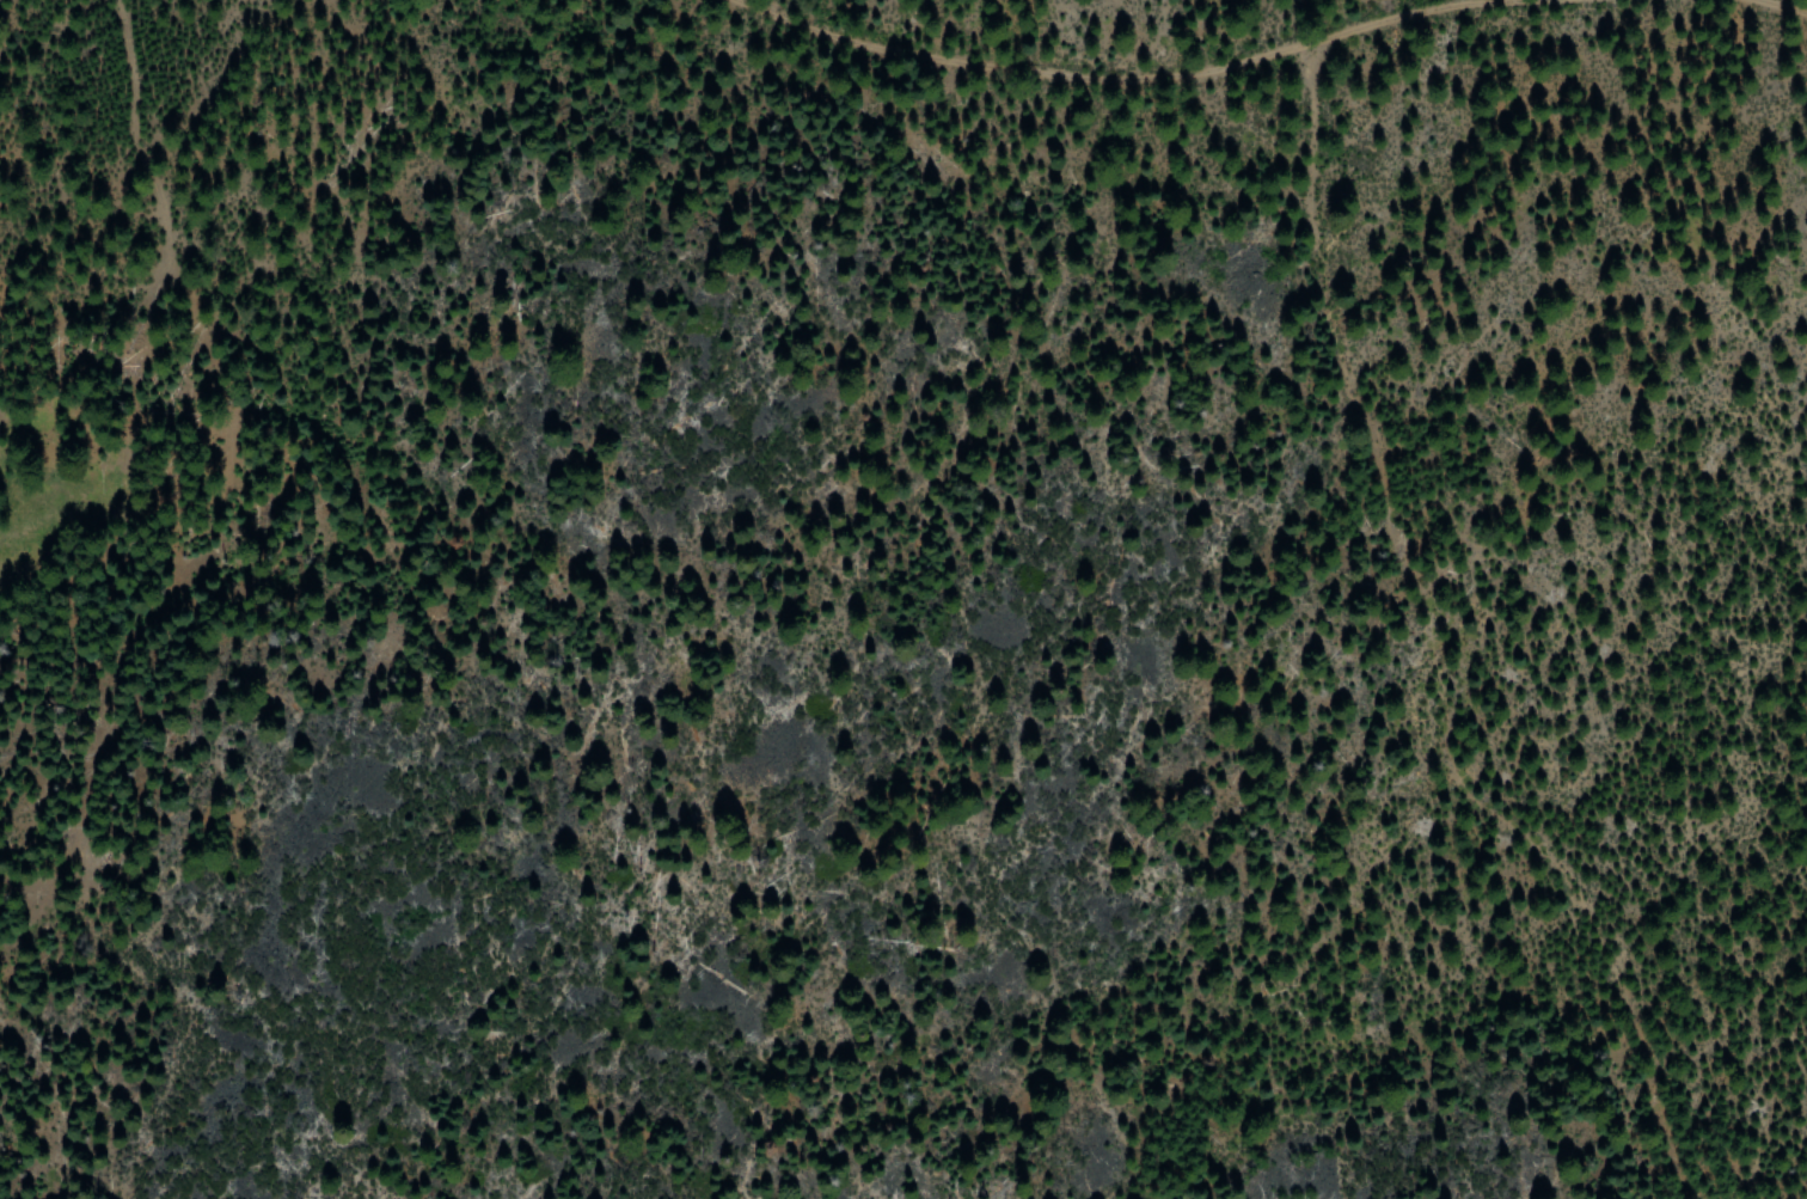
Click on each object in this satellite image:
road: (1780, 7)
road: (1150, 78)

